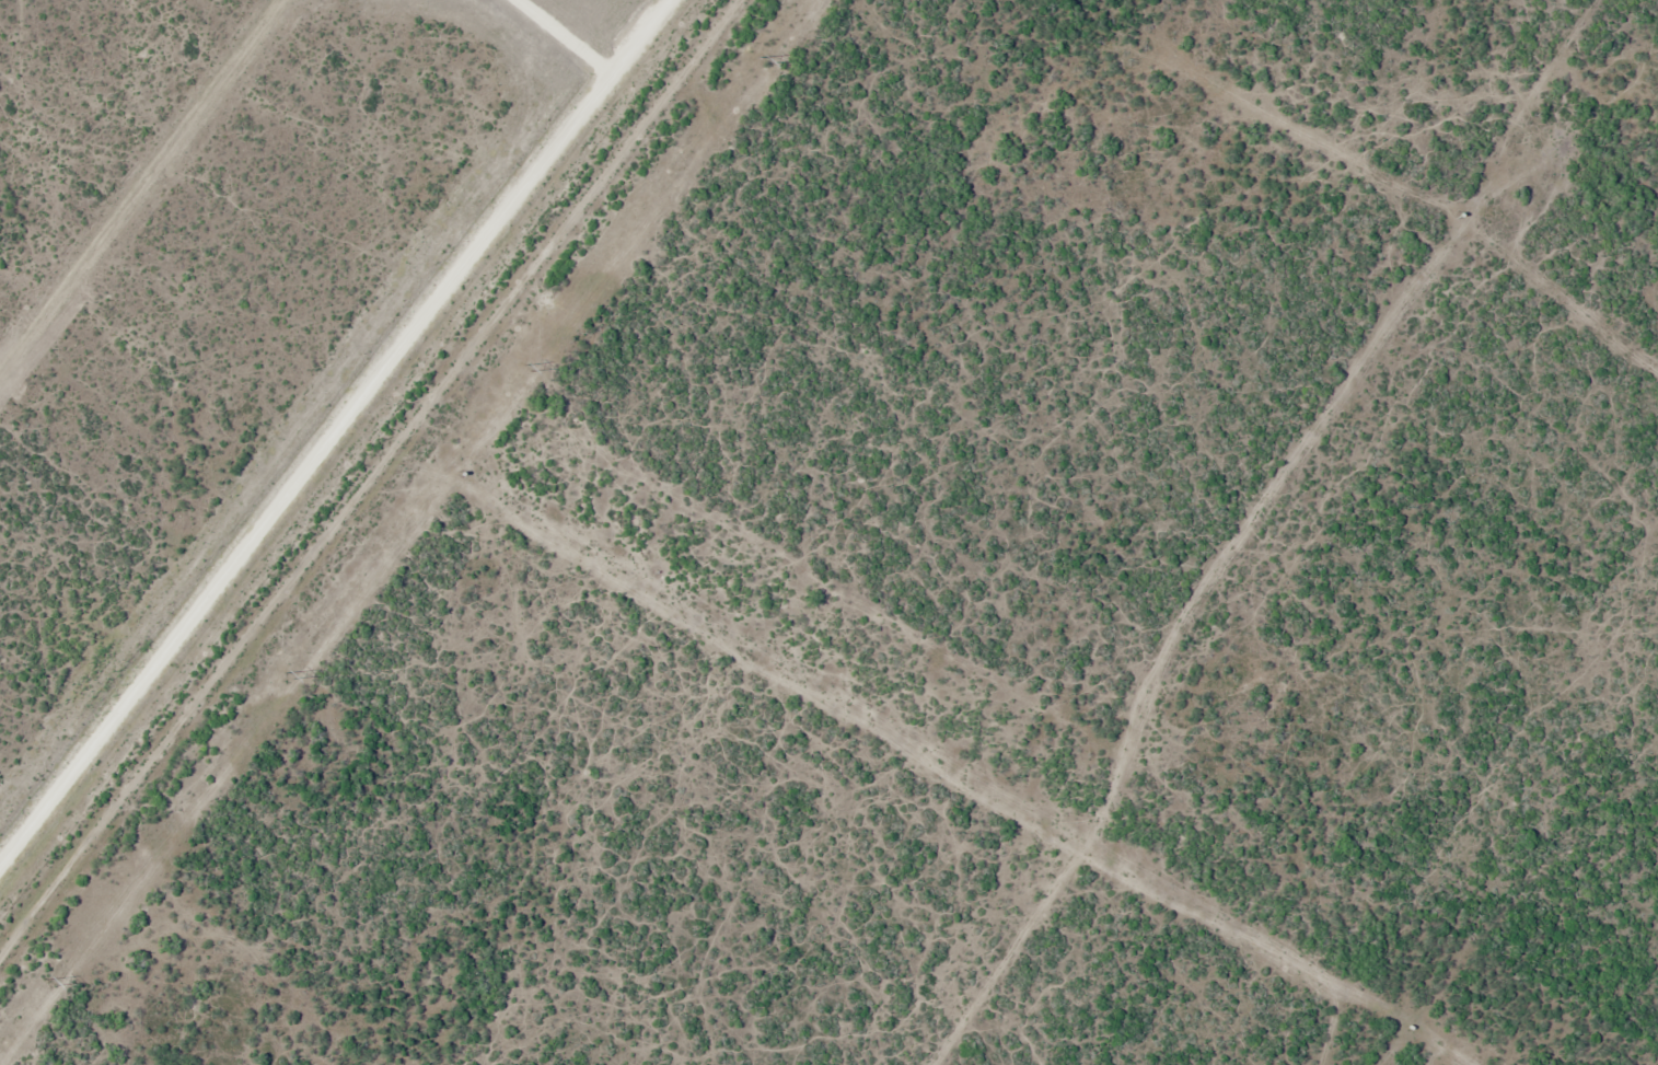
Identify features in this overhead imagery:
power tower: (764, 60)
power tower: (526, 368)
road: (395, 509)
power tower: (289, 675)
power tower: (51, 983)

